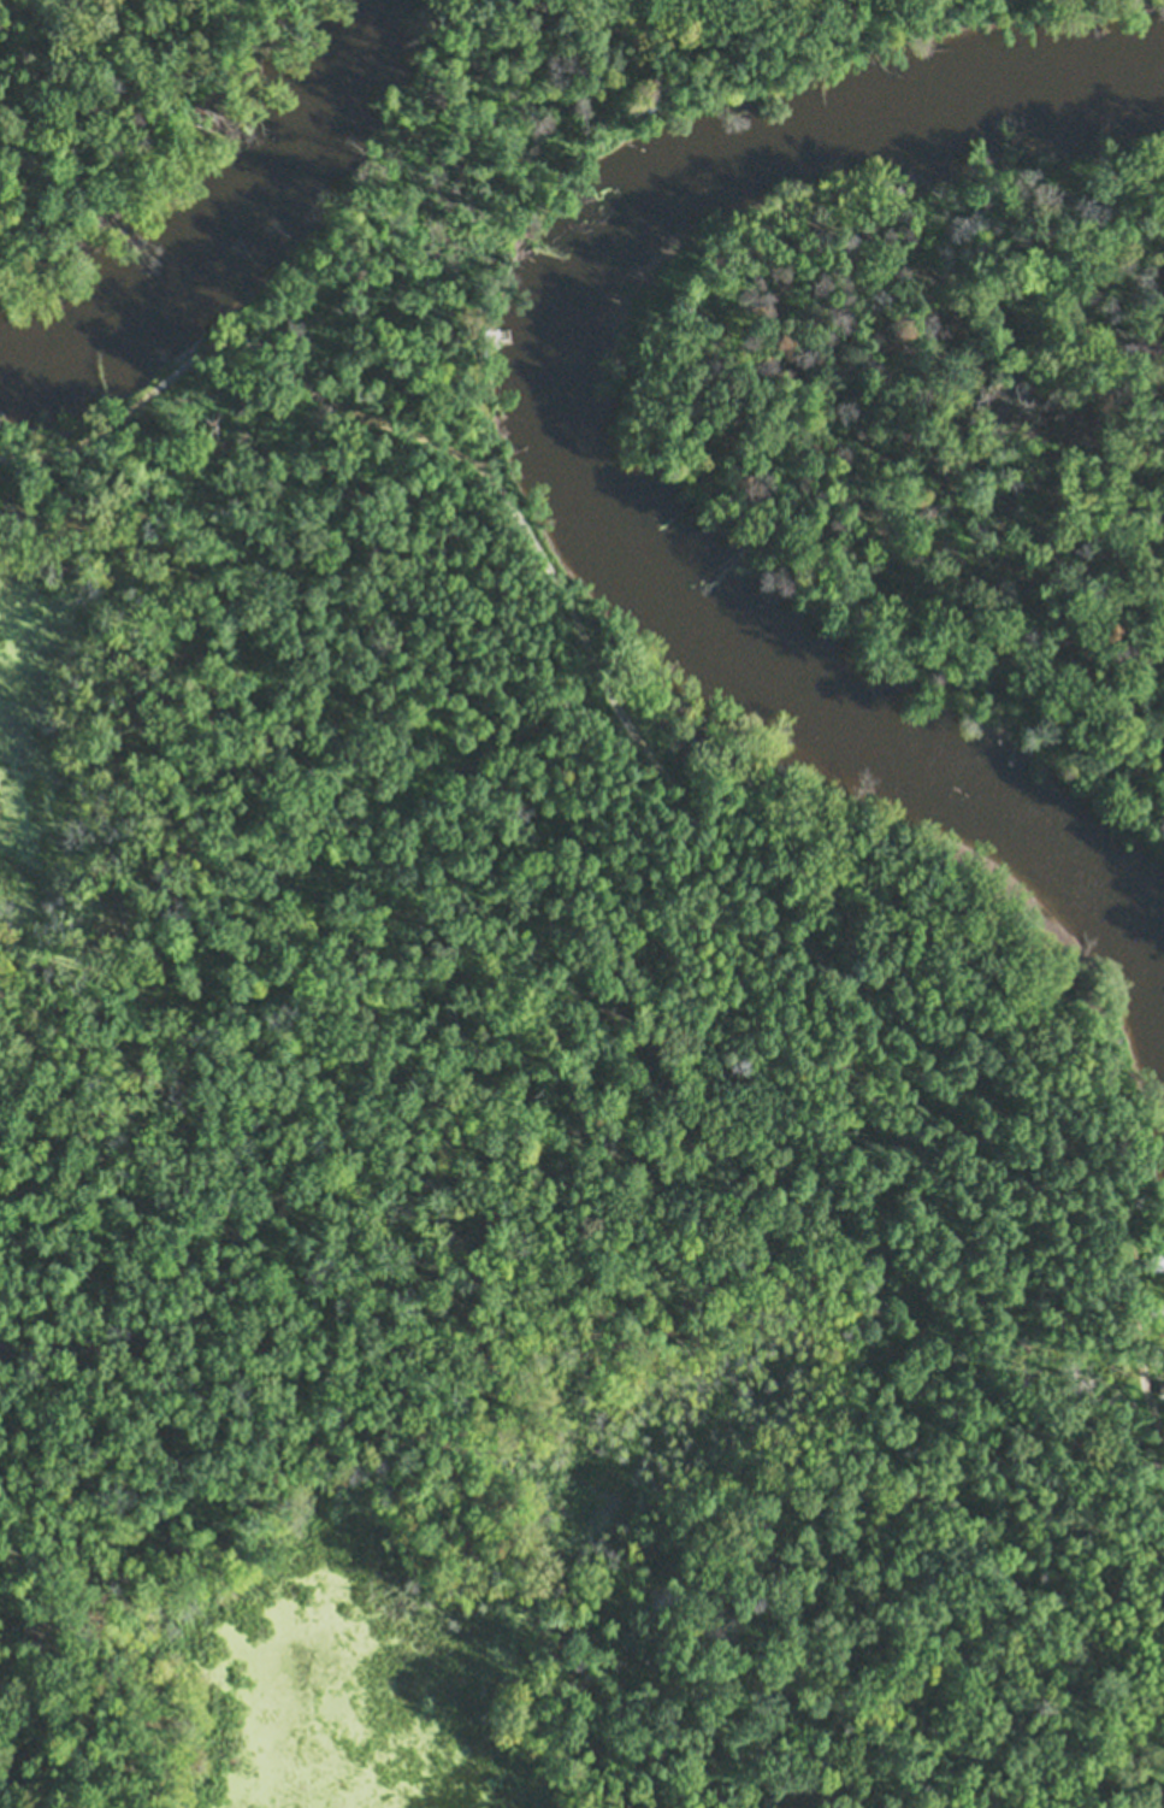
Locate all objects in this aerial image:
building: (636, 104)
building: (658, 110)
river: (220, 237)
building: (484, 342)
river: (568, 443)
road: (799, 934)
building: (1162, 1200)
building: (1156, 1259)
building: (1156, 1307)
building: (1160, 1384)

